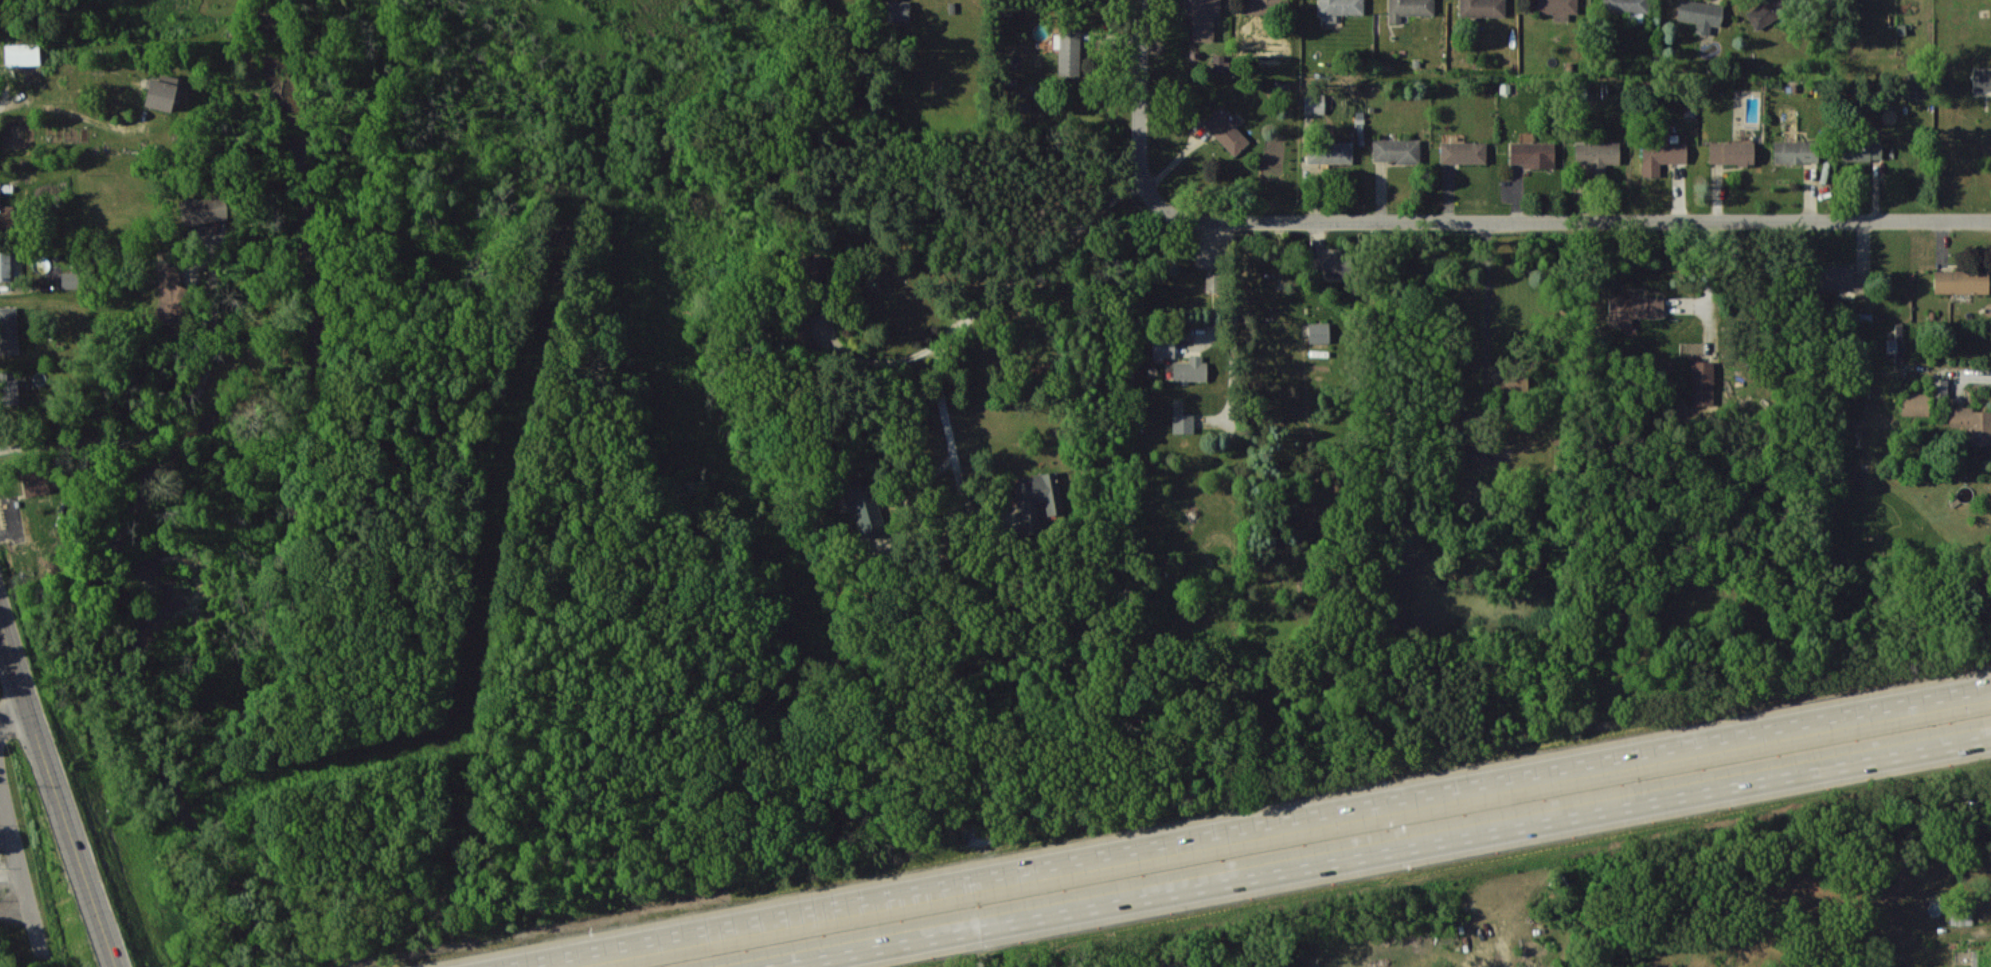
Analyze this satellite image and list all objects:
building: (1259, 6)
building: (1625, 6)
building: (1482, 7)
building: (1339, 8)
building: (1408, 8)
building: (1556, 8)
building: (899, 10)
building: (1765, 13)
building: (1700, 14)
building: (1203, 17)
building: (1069, 50)
building: (22, 54)
building: (1981, 79)
road: (5, 82)
building: (1915, 89)
building: (162, 92)
building: (1317, 102)
road: (74, 116)
road: (1140, 131)
building: (1226, 132)
building: (1862, 148)
building: (1396, 150)
building: (1795, 151)
building: (1329, 152)
building: (1463, 152)
building: (1731, 152)
building: (1532, 154)
building: (1661, 155)
building: (1597, 156)
building: (204, 209)
road: (1598, 213)
building: (6, 215)
building: (808, 263)
building: (1329, 263)
building: (5, 266)
building: (1839, 278)
building: (70, 279)
road: (1710, 281)
building: (1961, 281)
road: (1224, 288)
building: (169, 291)
road: (988, 302)
building: (1633, 307)
road: (1234, 323)
building: (9, 330)
road: (1489, 331)
building: (799, 332)
building: (1318, 332)
building: (1896, 344)
building: (1164, 348)
building: (1191, 369)
building: (1702, 382)
building: (1940, 386)
building: (9, 388)
building: (1915, 404)
building: (1183, 422)
building: (1972, 423)
road: (947, 424)
road: (166, 431)
building: (36, 482)
building: (1036, 499)
building: (865, 508)
road: (14, 715)
road: (1, 719)
road: (54, 784)
road: (1250, 826)
road: (17, 848)
road: (1386, 853)
building: (1970, 958)
road: (110, 964)

